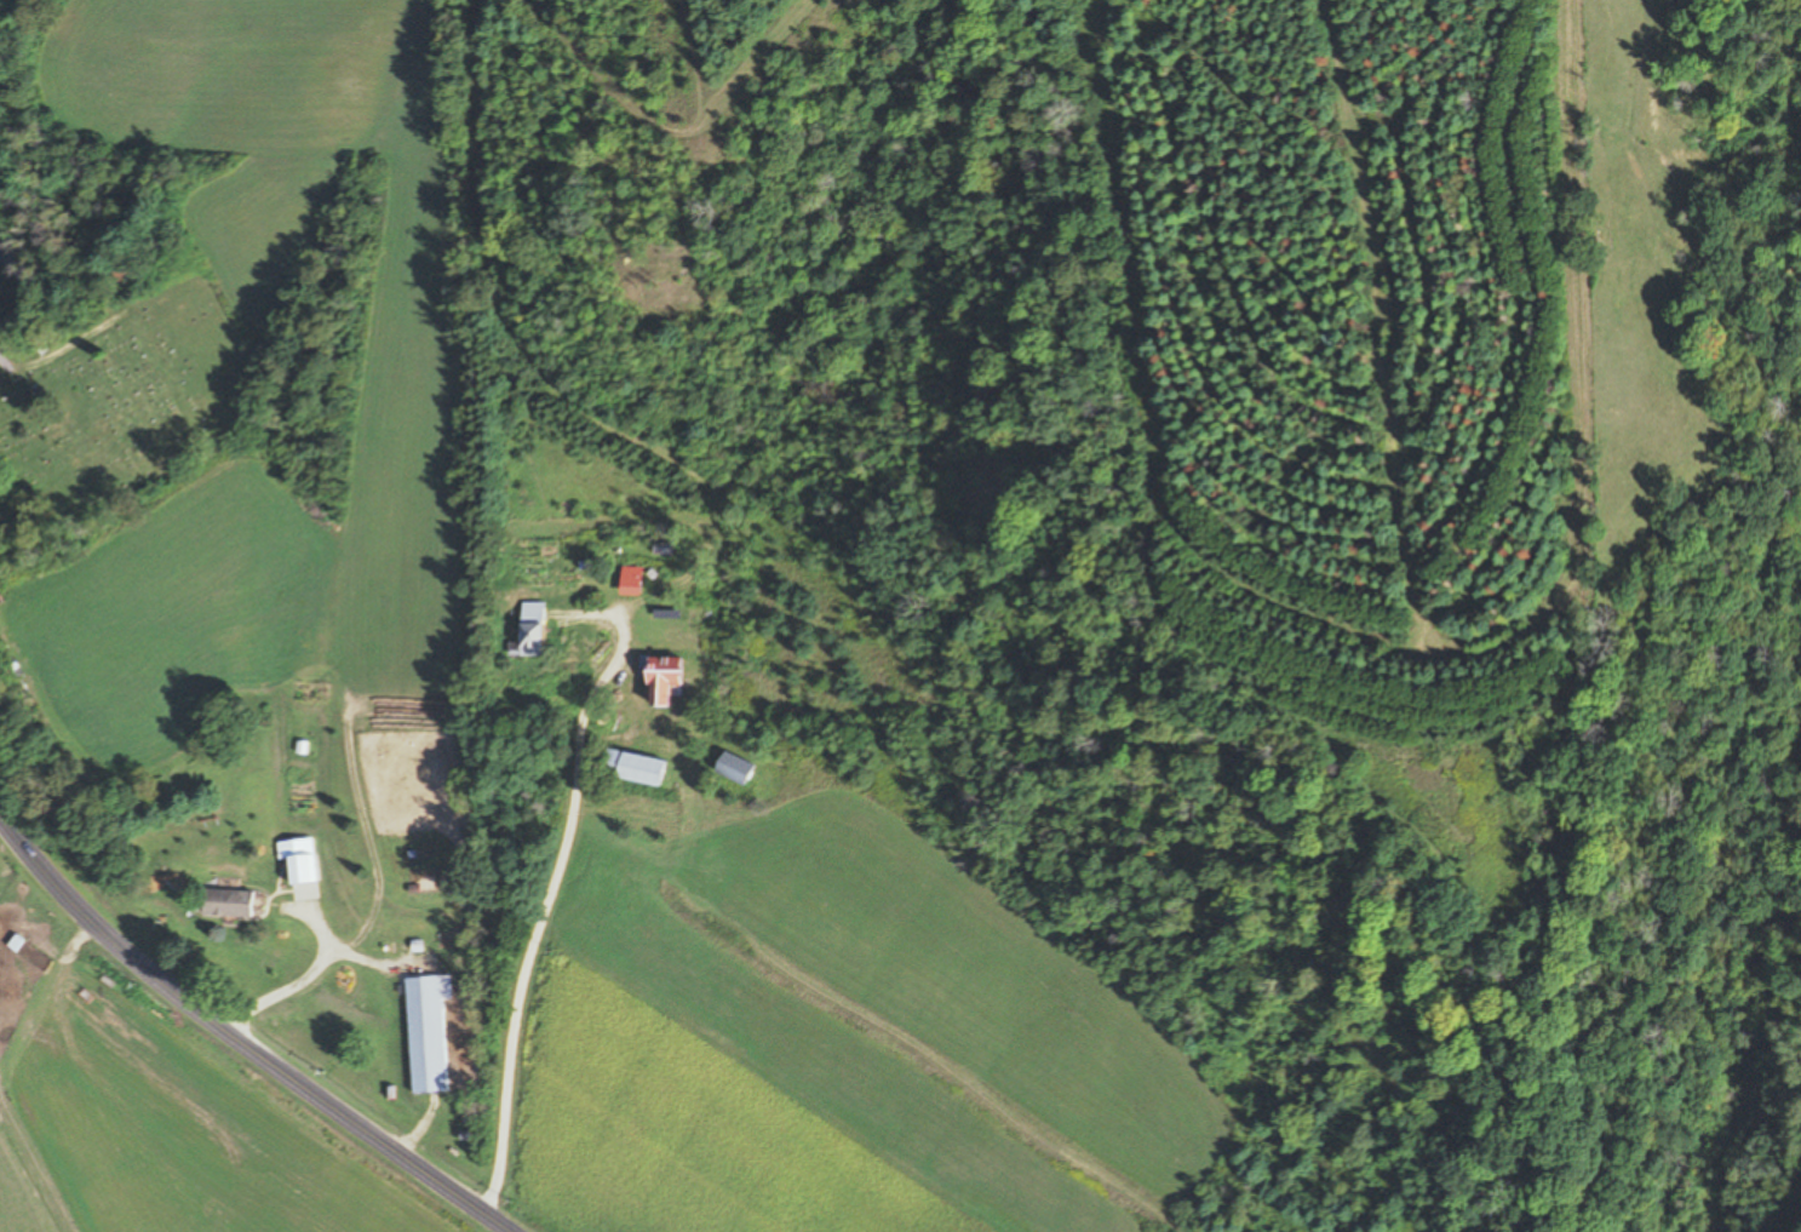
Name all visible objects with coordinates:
park: (126, 411)
building: (626, 581)
building: (527, 629)
building: (660, 681)
building: (729, 767)
building: (632, 768)
building: (296, 860)
building: (224, 902)
road: (538, 933)
building: (423, 1035)
road: (237, 1041)

